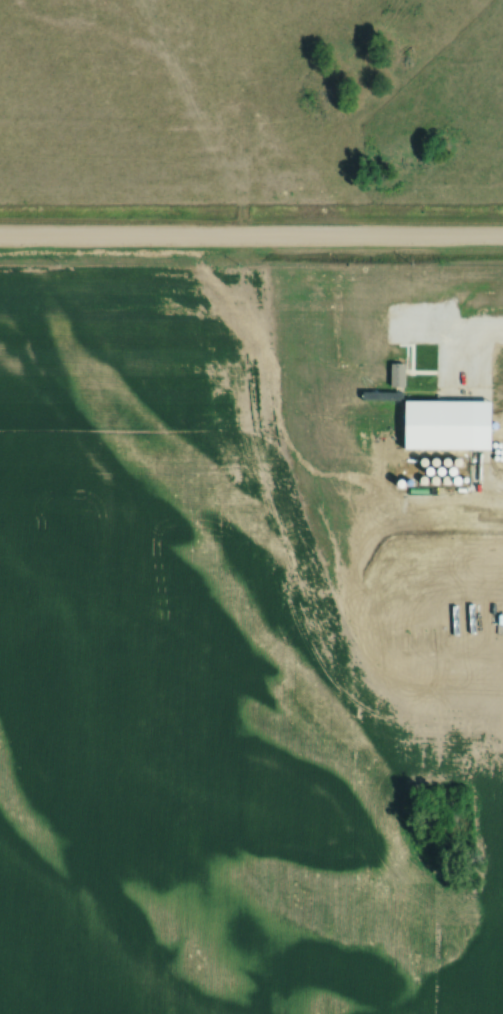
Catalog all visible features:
road: (251, 241)
road: (463, 328)

